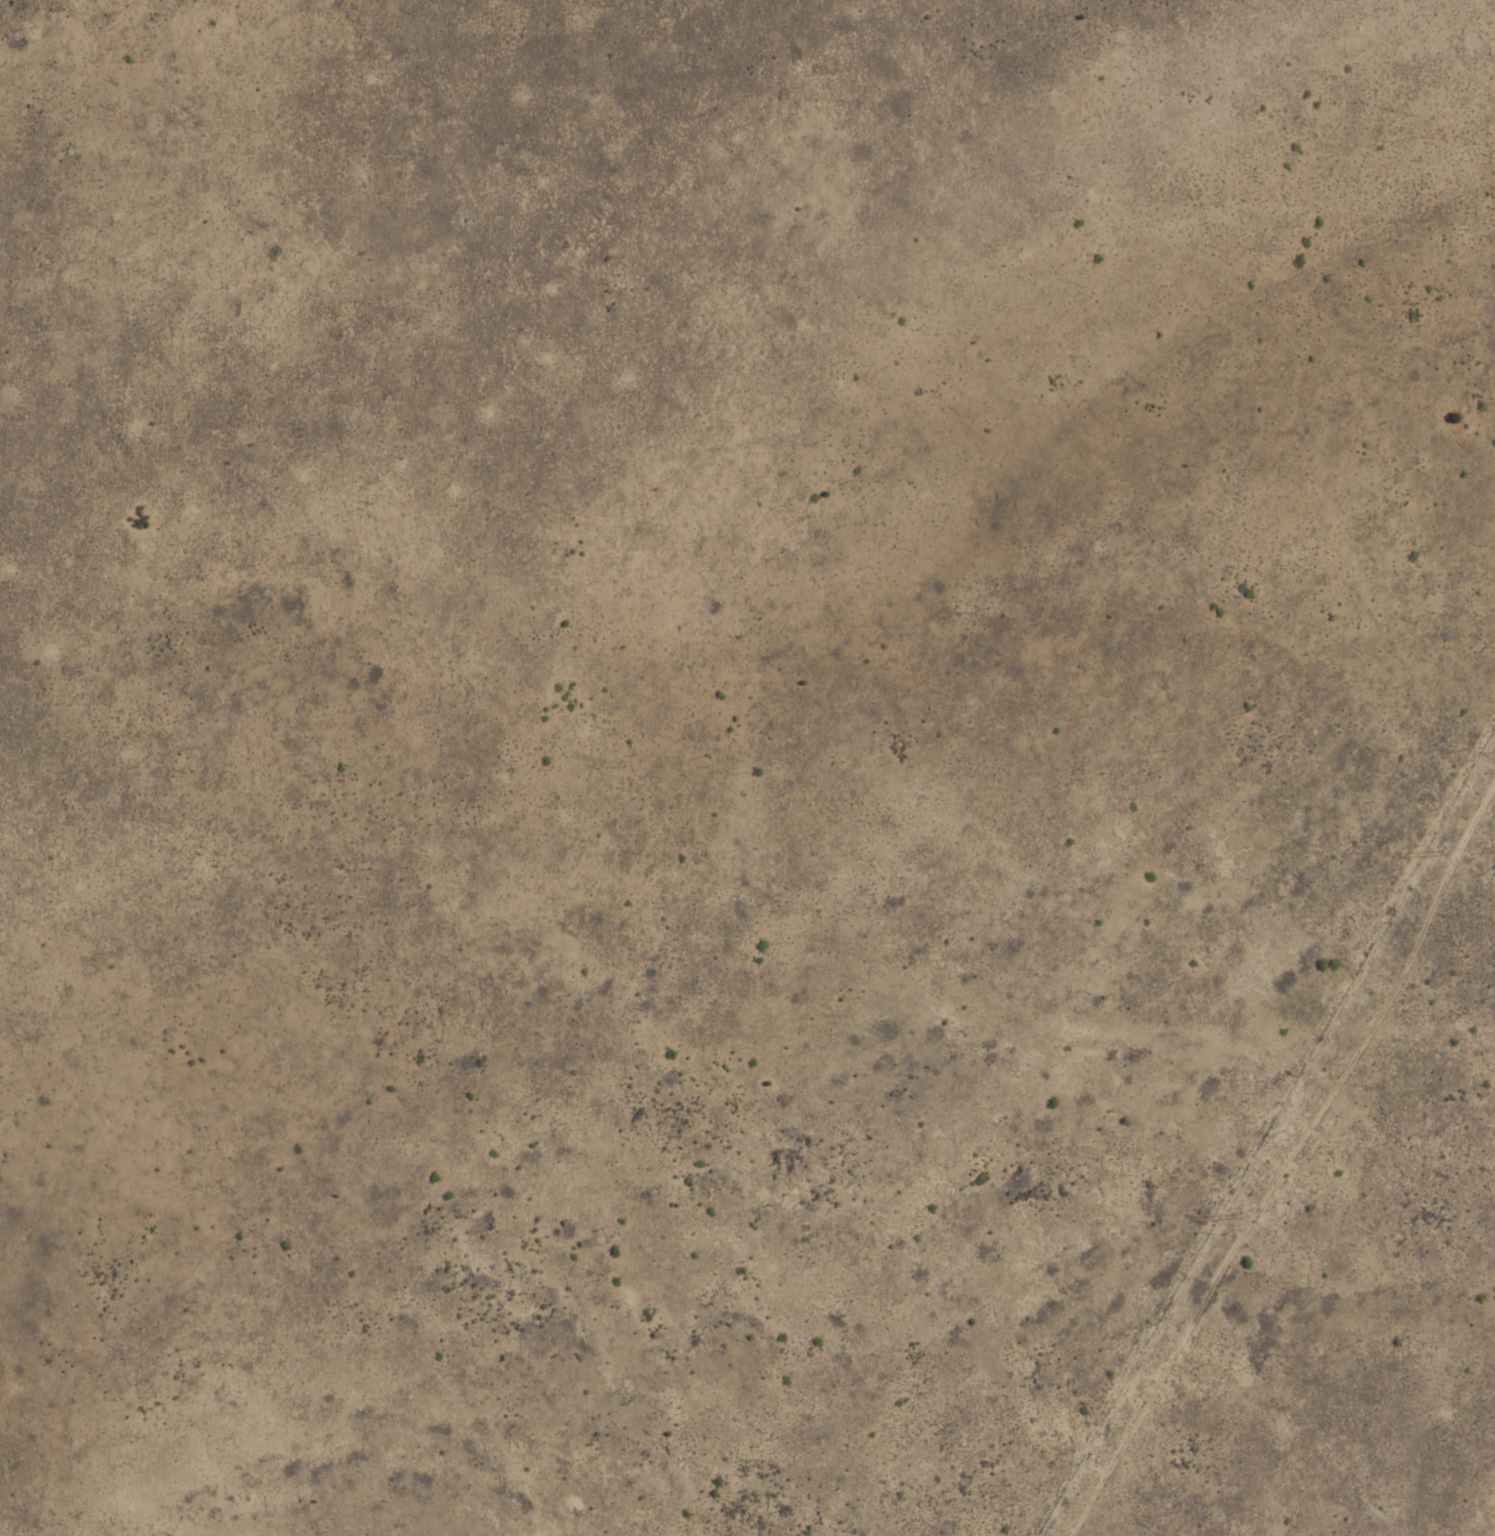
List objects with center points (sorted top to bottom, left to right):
aerialway pylon: (1445, 851)
road: (1290, 1164)
aerialway pylon: (1240, 1215)

